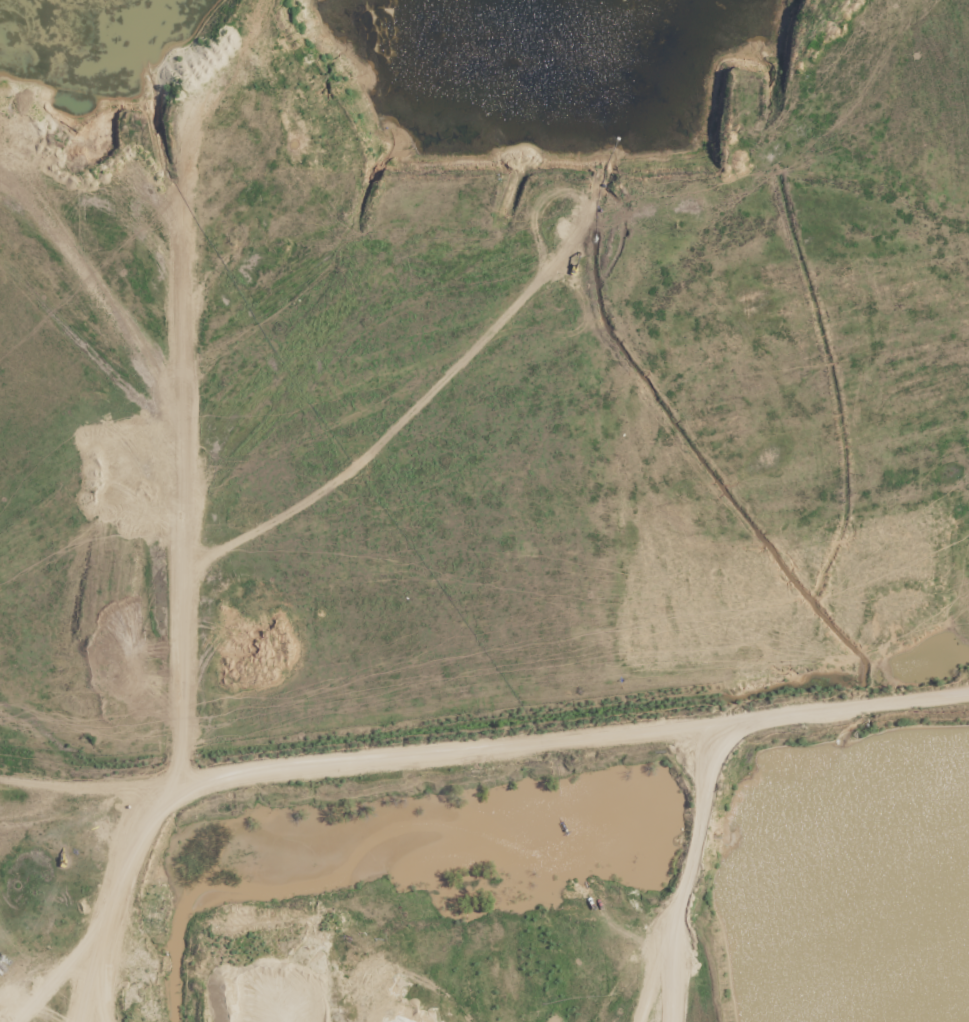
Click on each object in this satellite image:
road: (484, 739)

